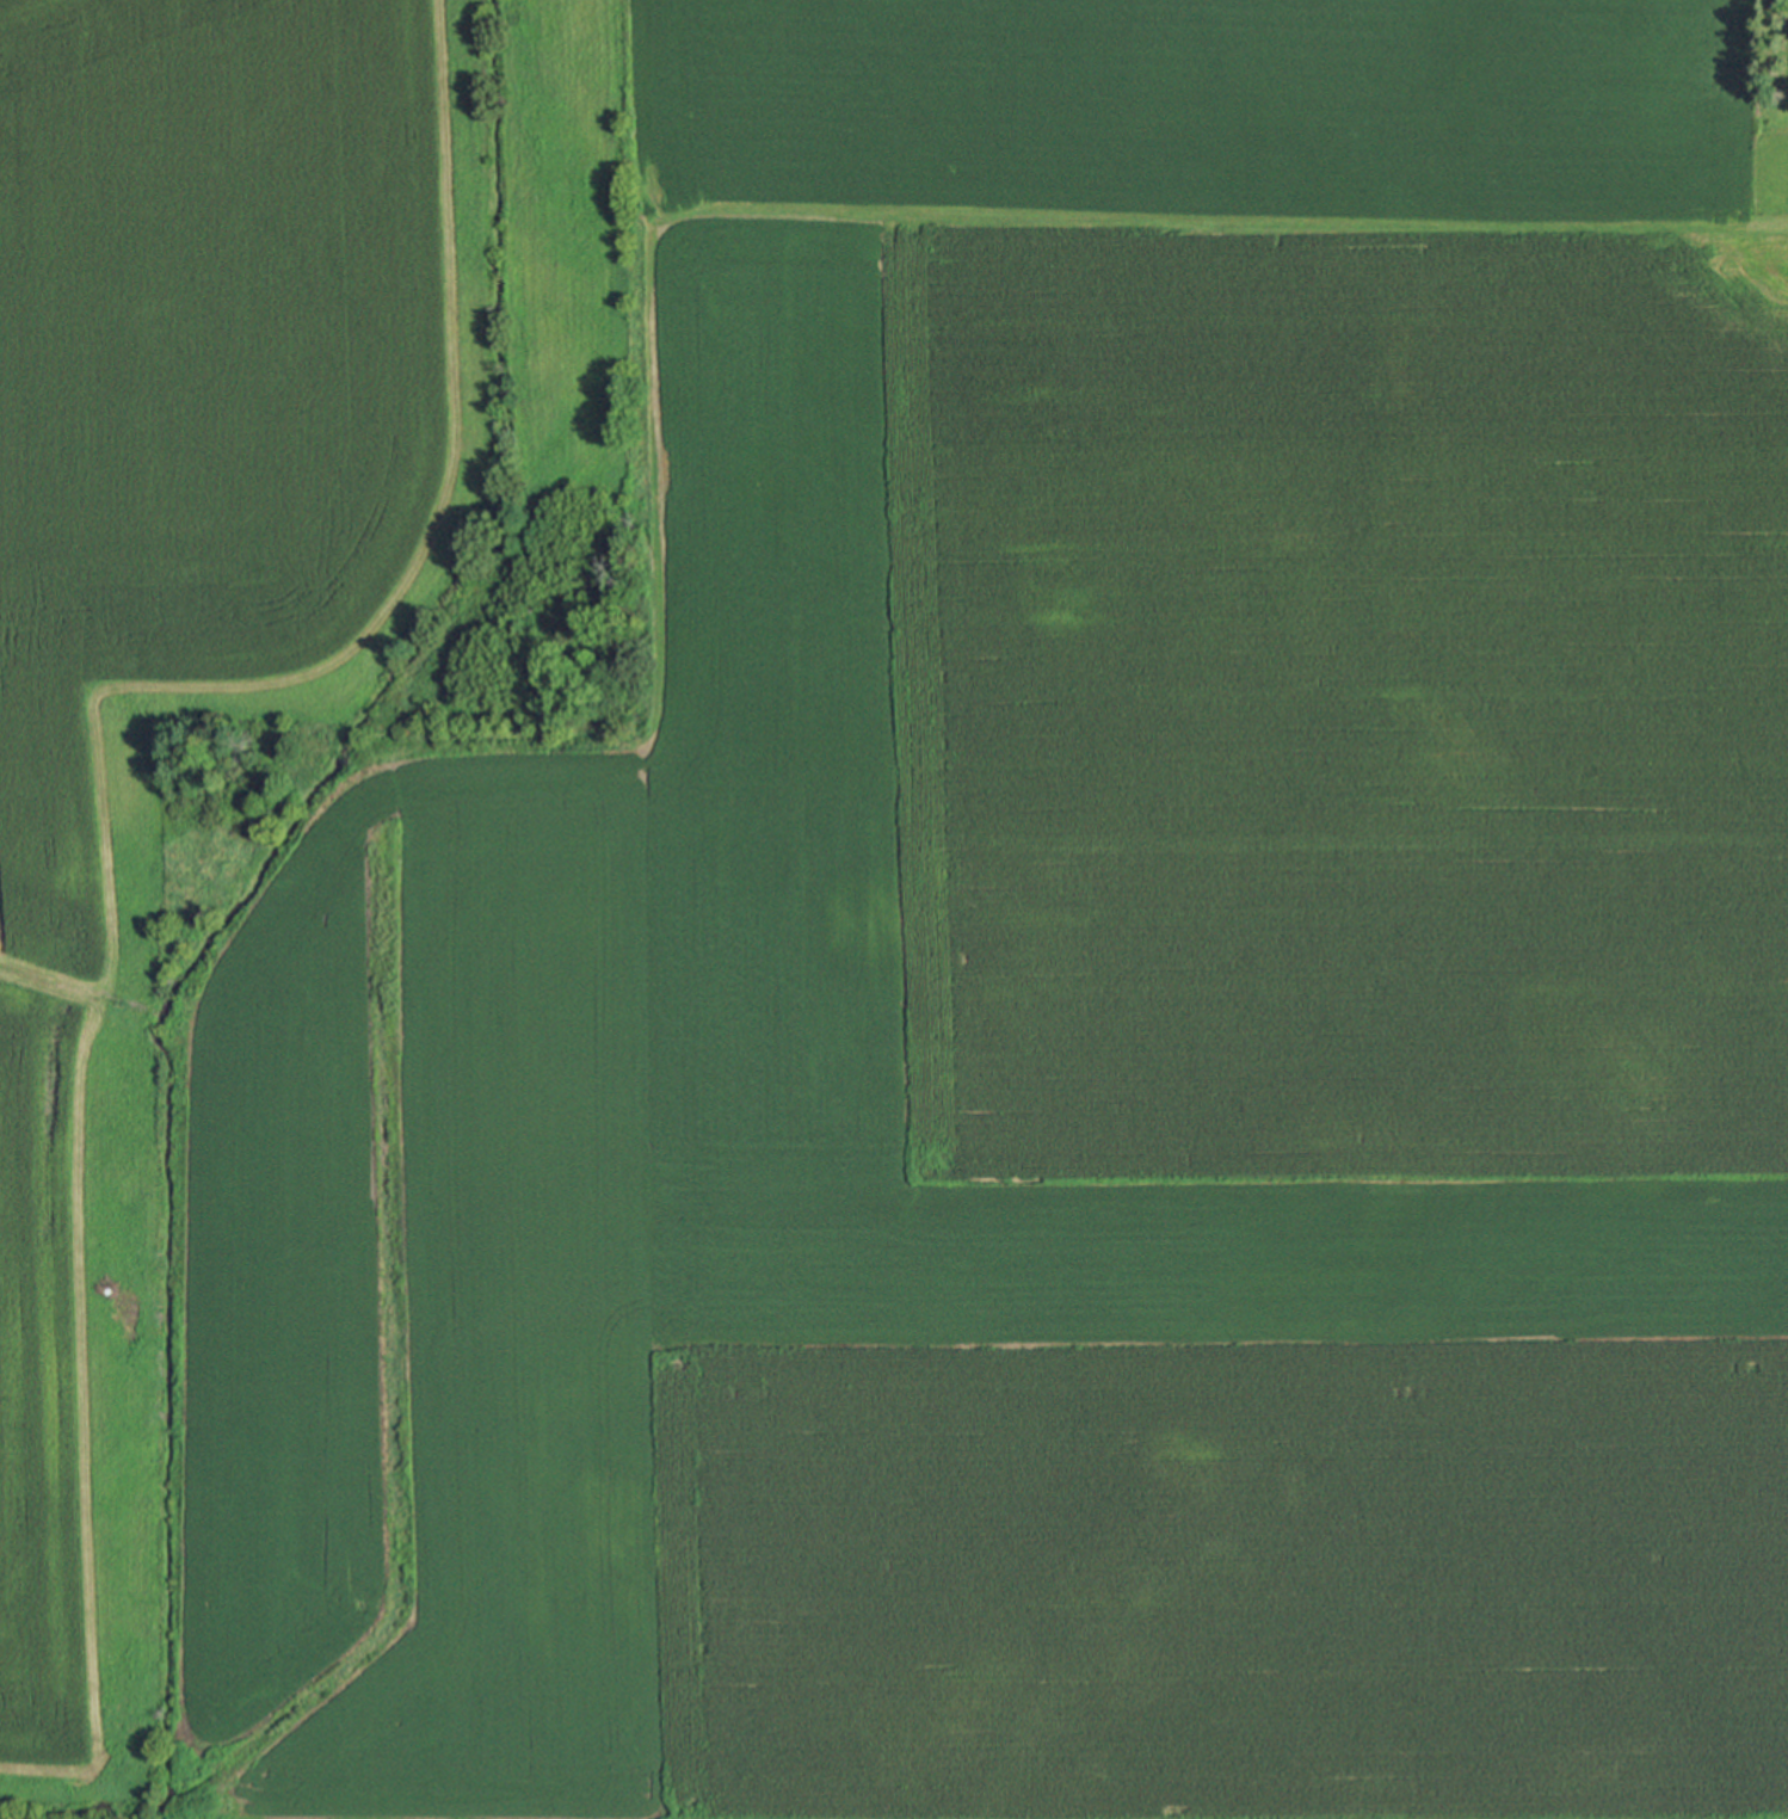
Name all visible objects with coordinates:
road: (1315, 224)

